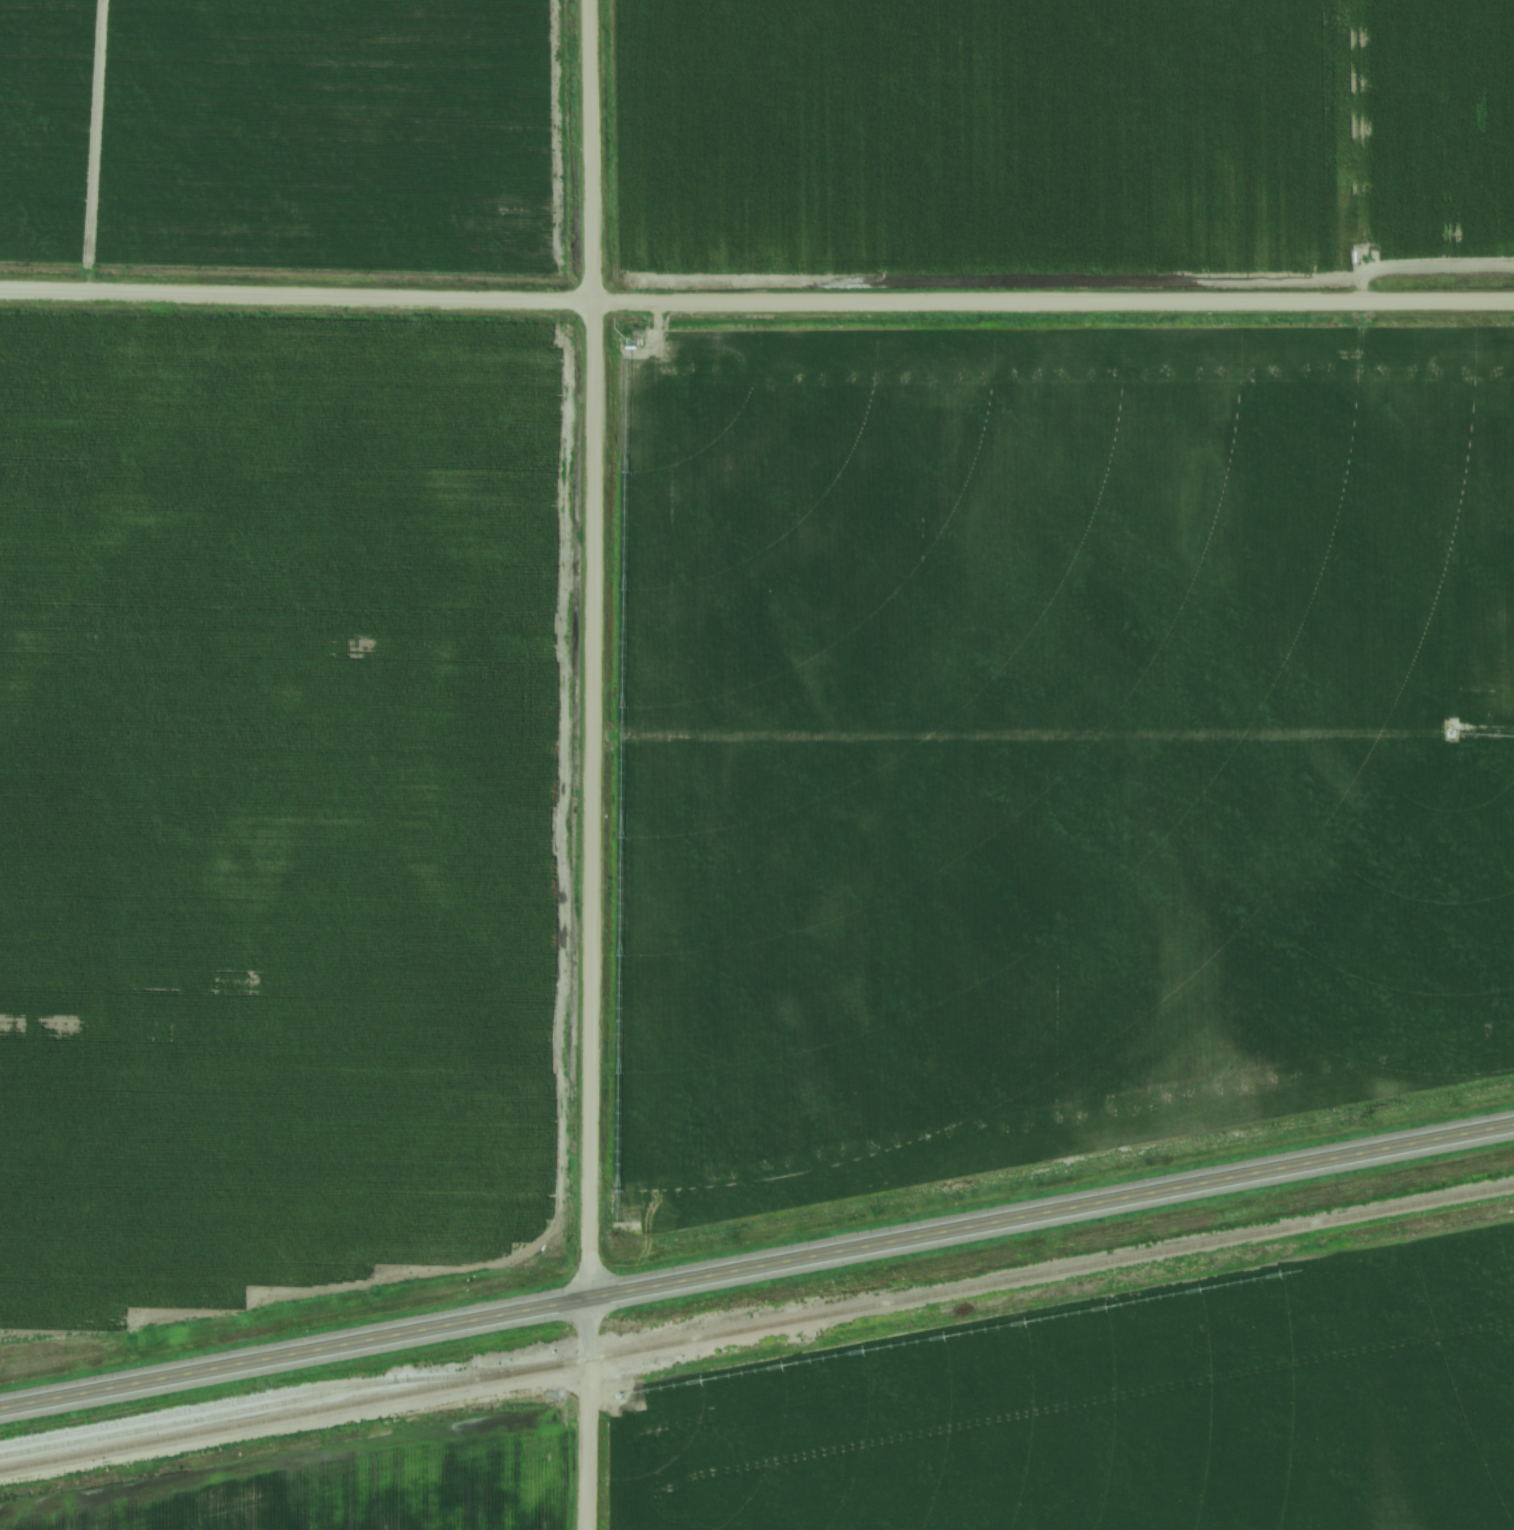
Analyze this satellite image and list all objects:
crop: (43, 126)
crop: (1060, 133)
crop: (335, 134)
road: (756, 303)
road: (590, 764)
crop: (275, 797)
road: (756, 1263)
railway: (757, 1324)
railway: (278, 1389)
crop: (1057, 1414)
railway: (198, 1417)
crop: (349, 1484)

